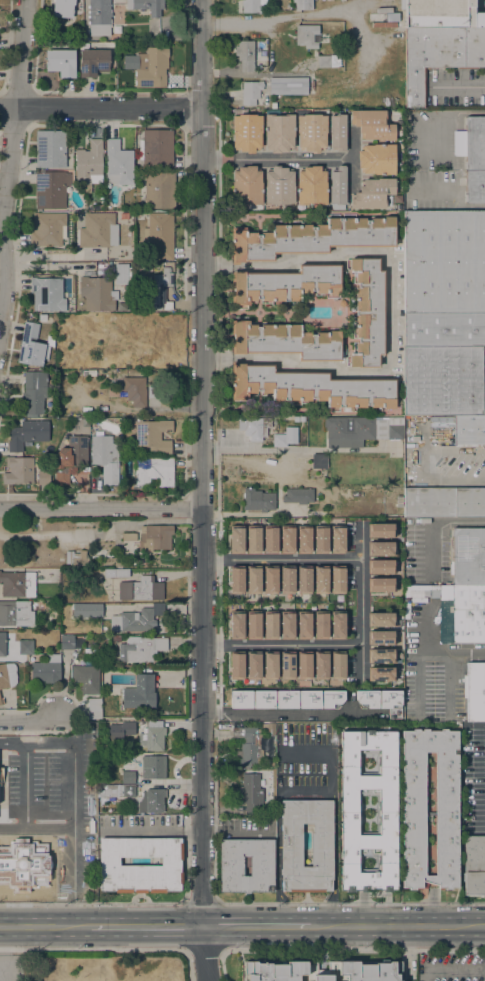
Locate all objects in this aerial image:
building: (303, 4)
building: (146, 6)
building: (251, 6)
building: (63, 8)
building: (439, 14)
building: (100, 17)
building: (384, 18)
building: (306, 36)
building: (245, 55)
building: (438, 57)
building: (328, 61)
building: (60, 62)
building: (93, 63)
building: (151, 67)
road: (463, 85)
building: (292, 86)
building: (250, 92)
building: (273, 106)
road: (100, 109)
building: (372, 125)
building: (279, 131)
building: (311, 132)
building: (337, 132)
building: (247, 133)
building: (471, 144)
building: (51, 149)
building: (156, 150)
road: (9, 152)
road: (288, 159)
building: (377, 159)
road: (213, 160)
building: (89, 164)
building: (119, 164)
building: (247, 186)
building: (279, 186)
building: (312, 186)
building: (475, 187)
building: (337, 188)
building: (159, 189)
building: (50, 190)
building: (373, 194)
building: (139, 216)
building: (47, 229)
building: (98, 230)
building: (159, 236)
building: (314, 238)
building: (444, 263)
building: (123, 274)
building: (284, 284)
building: (158, 293)
building: (48, 294)
building: (97, 294)
building: (342, 303)
road: (390, 310)
building: (369, 312)
building: (76, 327)
building: (444, 329)
building: (285, 341)
building: (31, 346)
building: (80, 352)
building: (61, 363)
building: (443, 381)
building: (311, 387)
building: (132, 390)
building: (34, 392)
building: (153, 393)
building: (256, 428)
building: (363, 429)
building: (463, 430)
building: (27, 434)
building: (153, 435)
building: (285, 440)
building: (105, 457)
building: (70, 459)
building: (319, 461)
building: (18, 470)
building: (154, 471)
building: (43, 478)
road: (203, 490)
building: (298, 496)
building: (257, 500)
building: (443, 502)
road: (101, 508)
road: (431, 524)
building: (381, 530)
building: (129, 537)
building: (154, 538)
building: (236, 539)
building: (253, 539)
building: (269, 539)
building: (286, 539)
building: (303, 539)
building: (320, 539)
building: (337, 539)
building: (381, 548)
building: (103, 549)
building: (467, 556)
building: (76, 558)
road: (300, 560)
building: (381, 567)
building: (115, 573)
building: (47, 575)
building: (252, 579)
building: (269, 579)
building: (236, 580)
building: (286, 580)
building: (303, 580)
building: (320, 580)
building: (337, 580)
building: (17, 584)
building: (381, 585)
building: (422, 587)
building: (141, 589)
building: (446, 592)
building: (416, 593)
building: (426, 593)
building: (406, 604)
building: (86, 610)
building: (15, 613)
building: (468, 614)
building: (381, 620)
building: (133, 621)
road: (361, 622)
building: (236, 625)
building: (253, 625)
building: (269, 625)
building: (287, 625)
building: (320, 625)
building: (337, 625)
building: (304, 626)
building: (75, 632)
building: (381, 638)
building: (115, 639)
building: (69, 642)
building: (2, 644)
road: (282, 645)
building: (25, 646)
building: (141, 649)
road: (423, 654)
building: (381, 655)
building: (270, 665)
building: (287, 665)
building: (304, 665)
building: (321, 665)
building: (236, 666)
building: (253, 666)
building: (337, 666)
building: (47, 670)
building: (381, 674)
building: (7, 675)
building: (86, 677)
building: (475, 692)
building: (139, 693)
building: (377, 699)
building: (1, 701)
building: (94, 708)
building: (252, 708)
building: (314, 713)
road: (291, 714)
road: (29, 722)
building: (123, 728)
building: (151, 737)
building: (248, 744)
building: (153, 767)
building: (1, 770)
building: (127, 774)
building: (0, 776)
road: (77, 783)
building: (413, 783)
building: (116, 791)
road: (304, 792)
building: (251, 794)
building: (151, 801)
building: (350, 811)
building: (57, 816)
road: (26, 817)
road: (153, 829)
building: (289, 850)
building: (109, 863)
building: (231, 866)
building: (474, 866)
building: (57, 871)
road: (200, 902)
road: (91, 903)
road: (352, 903)
road: (21, 908)
road: (431, 908)
road: (74, 912)
road: (146, 925)
road: (257, 925)
road: (45, 926)
road: (398, 926)
road: (93, 949)
road: (204, 950)
road: (354, 950)
road: (188, 965)
building: (322, 971)

